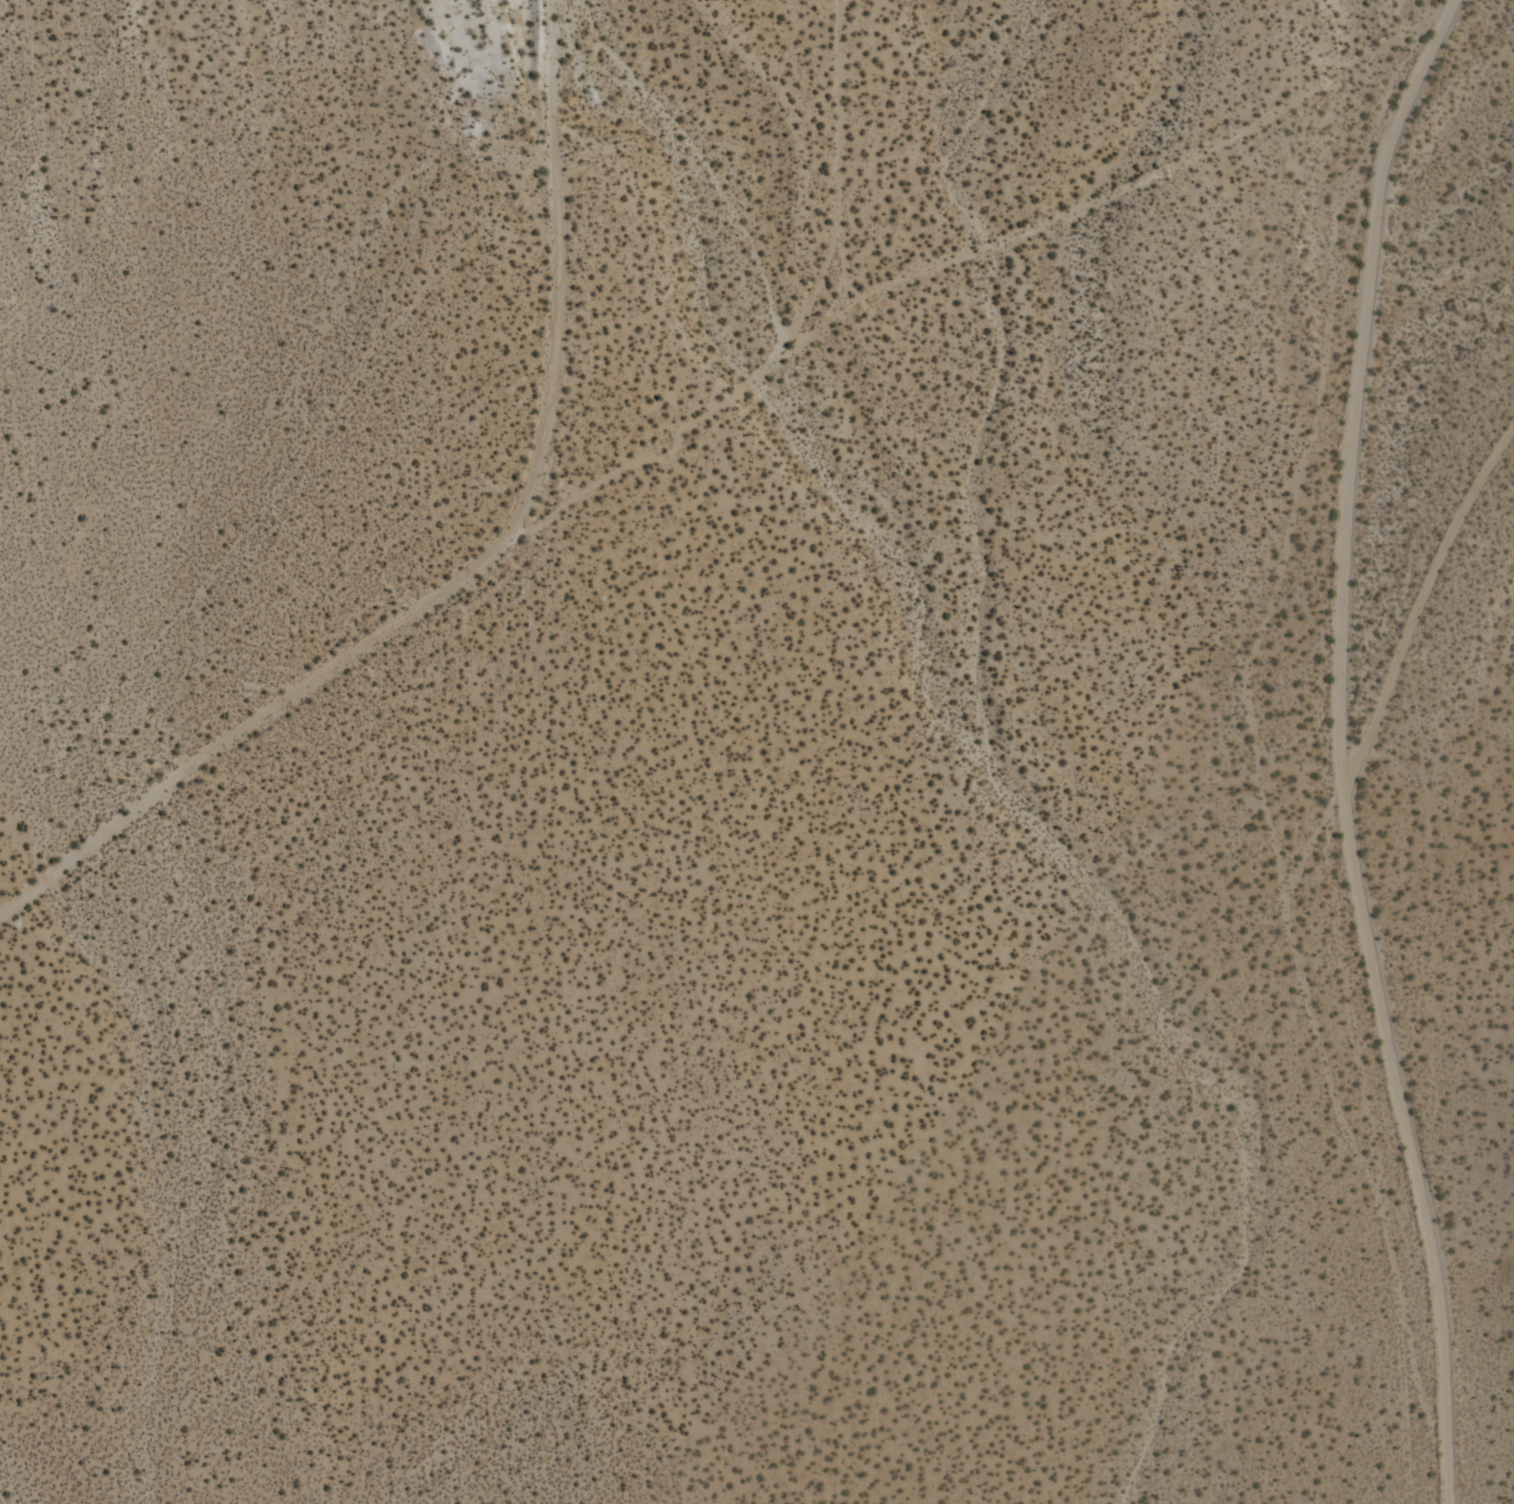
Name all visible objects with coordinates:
road: (1424, 583)

